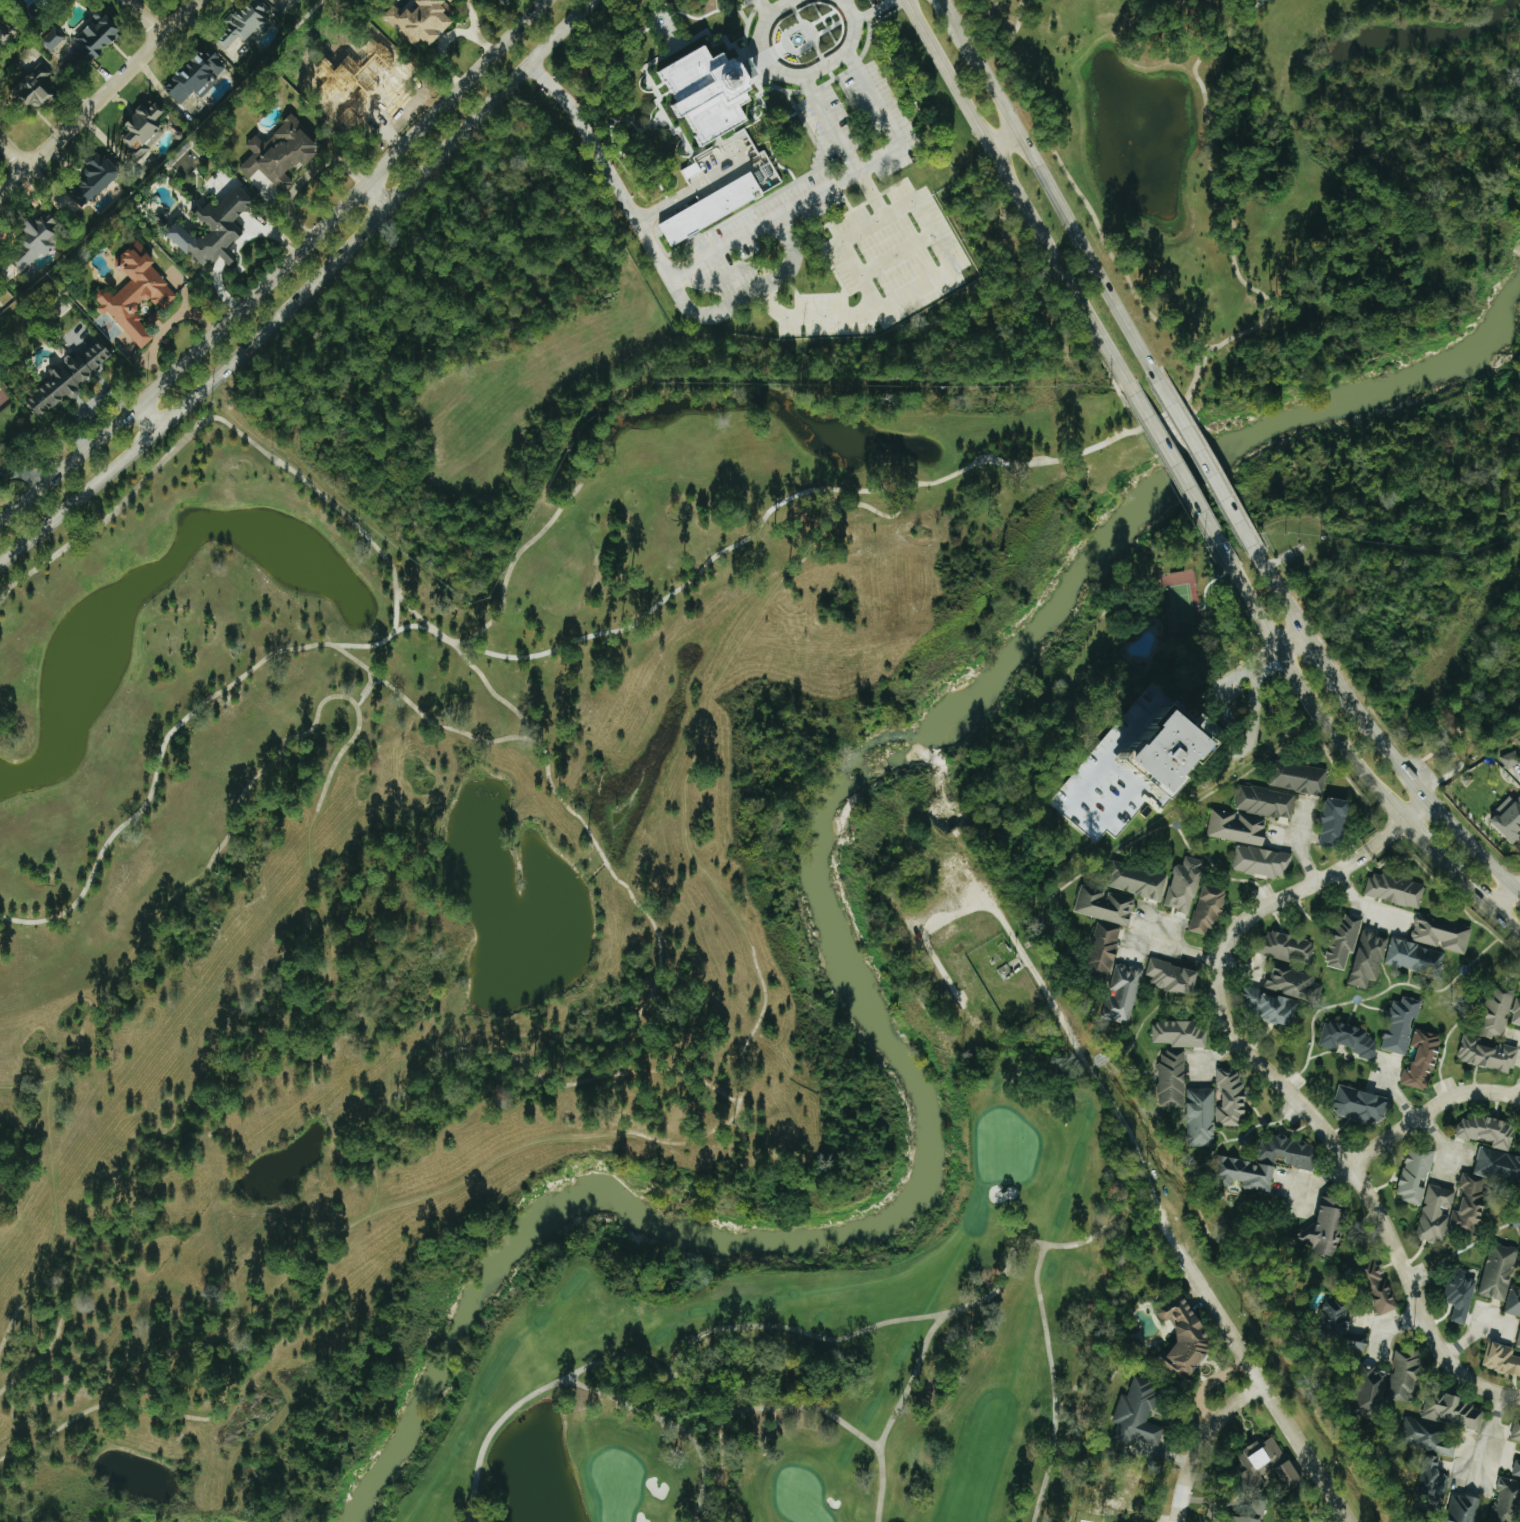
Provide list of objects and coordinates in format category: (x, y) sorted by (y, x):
building: (288, 0)
building: (278, 1)
building: (506, 1)
road: (777, 5)
road: (884, 5)
road: (952, 11)
road: (865, 16)
road: (144, 18)
building: (425, 20)
building: (248, 23)
building: (7, 31)
building: (99, 35)
building: (53, 39)
road: (826, 64)
road: (539, 72)
building: (198, 75)
road: (803, 77)
building: (38, 85)
building: (709, 93)
road: (873, 97)
road: (100, 99)
building: (144, 131)
road: (1005, 140)
road: (16, 149)
building: (283, 152)
building: (97, 178)
road: (690, 191)
road: (1014, 192)
road: (871, 194)
road: (379, 195)
road: (1056, 195)
road: (1078, 195)
building: (712, 208)
building: (217, 227)
building: (37, 241)
road: (724, 249)
road: (949, 261)
road: (281, 271)
road: (305, 291)
building: (137, 293)
road: (687, 304)
building: (69, 378)
road: (89, 407)
road: (141, 421)
road: (1208, 465)
road: (23, 472)
road: (602, 479)
road: (1182, 480)
road: (745, 535)
road: (803, 548)
road: (1284, 596)
road: (1291, 641)
road: (1327, 662)
road: (481, 675)
road: (369, 694)
road: (350, 701)
road: (1310, 706)
road: (1286, 724)
road: (176, 727)
road: (1388, 748)
building: (1201, 751)
road: (1094, 752)
building: (1512, 759)
building: (1300, 776)
road: (1417, 810)
building: (1252, 814)
building: (1336, 822)
road: (1386, 836)
road: (1300, 841)
road: (1475, 845)
road: (602, 851)
building: (1263, 861)
road: (1449, 865)
building: (1138, 880)
building: (1186, 884)
building: (1397, 889)
road: (1507, 897)
building: (1106, 905)
road: (1365, 905)
building: (1210, 908)
road: (1507, 921)
building: (949, 933)
building: (1443, 933)
river: (847, 935)
building: (1345, 942)
road: (1176, 946)
building: (1289, 946)
building: (1106, 949)
building: (1414, 956)
building: (1370, 959)
building: (1175, 976)
building: (1294, 983)
building: (1124, 992)
road: (1048, 994)
building: (1271, 1006)
building: (1517, 1015)
building: (1402, 1024)
building: (1182, 1033)
building: (1493, 1036)
building: (1350, 1038)
building: (1424, 1060)
road: (520, 1062)
building: (1173, 1078)
building: (1232, 1097)
building: (1362, 1104)
road: (1302, 1110)
road: (1429, 1114)
building: (1202, 1116)
building: (1489, 1131)
road: (633, 1134)
park: (1004, 1145)
building: (1267, 1163)
building: (1499, 1164)
building: (1417, 1175)
building: (1473, 1202)
building: (1437, 1213)
road: (49, 1216)
building: (1327, 1227)
road: (1066, 1245)
road: (1045, 1246)
building: (1500, 1271)
building: (1381, 1287)
road: (993, 1292)
building: (1462, 1294)
building: (1514, 1302)
road: (945, 1315)
building: (1342, 1326)
building: (1183, 1334)
building: (1519, 1345)
park: (817, 1351)
building: (1503, 1358)
road: (573, 1374)
road: (675, 1376)
road: (570, 1378)
road: (910, 1383)
road: (585, 1385)
road: (1269, 1388)
road: (747, 1409)
road: (205, 1411)
building: (1454, 1411)
building: (1135, 1413)
building: (1517, 1428)
road: (1494, 1437)
road: (877, 1443)
road: (1208, 1443)
building: (1274, 1460)
road: (722, 1467)
park: (615, 1485)
building: (1125, 1487)
park: (800, 1496)
building: (1508, 1498)
building: (1465, 1508)
road: (472, 1514)
building: (1249, 1519)
road: (470, 1520)
building: (1106, 1521)

